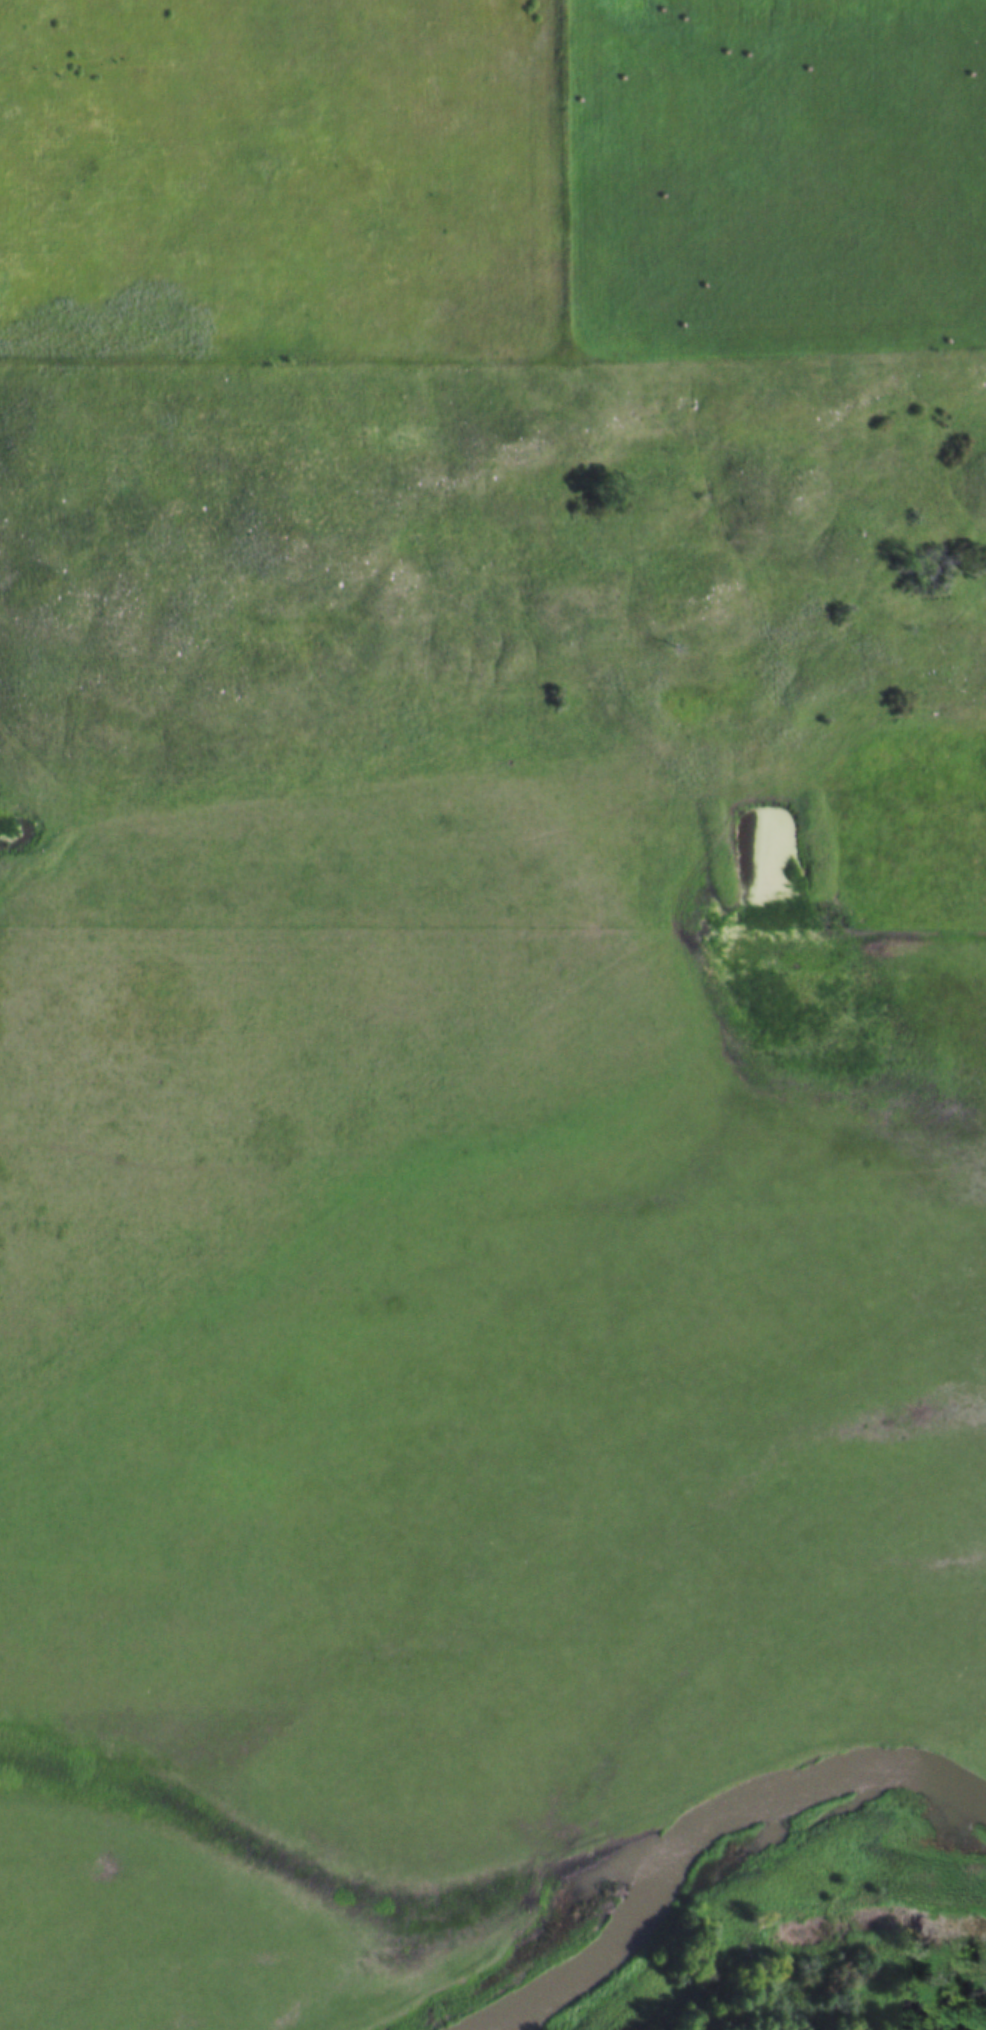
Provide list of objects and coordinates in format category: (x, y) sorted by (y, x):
river: (680, 1822)

